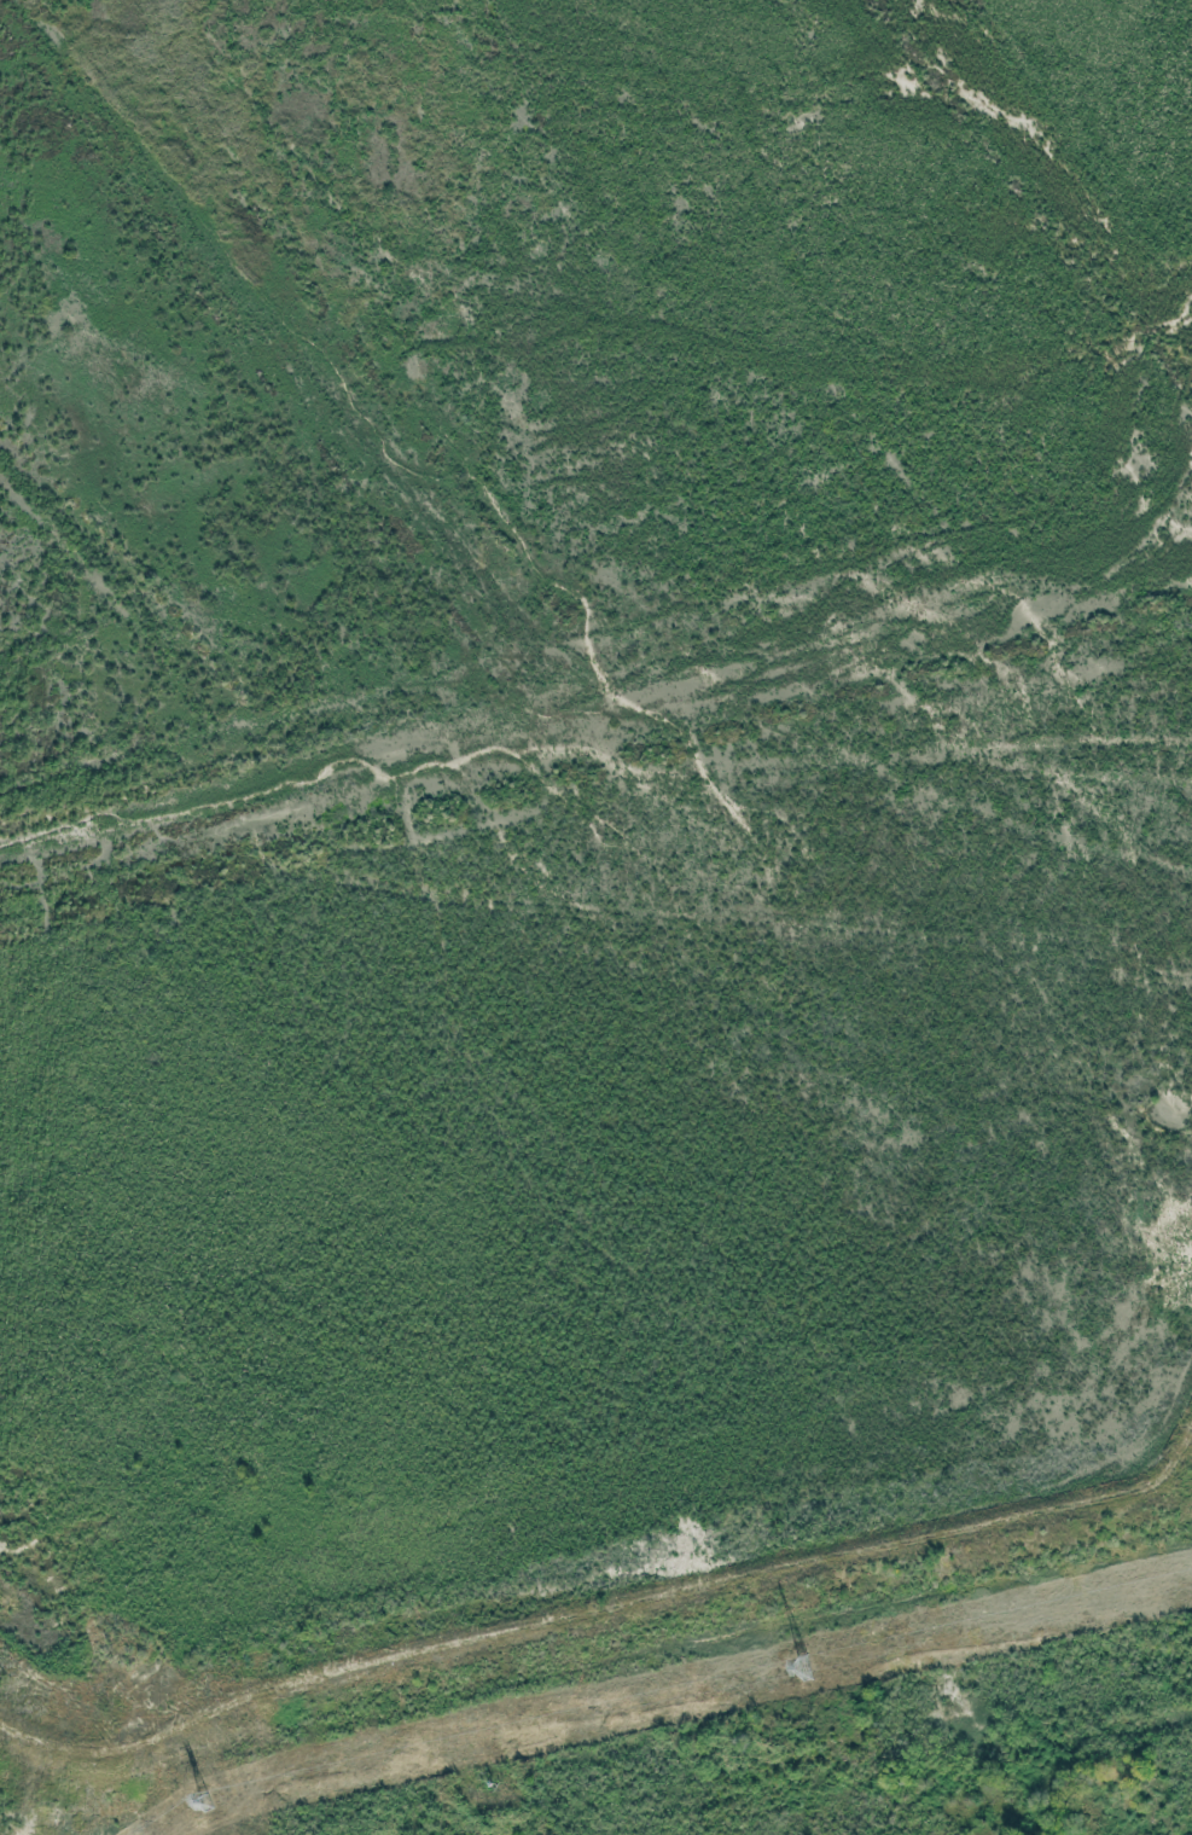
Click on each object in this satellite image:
landfill: (595, 917)
power tower: (798, 1666)
power tower: (196, 1798)

